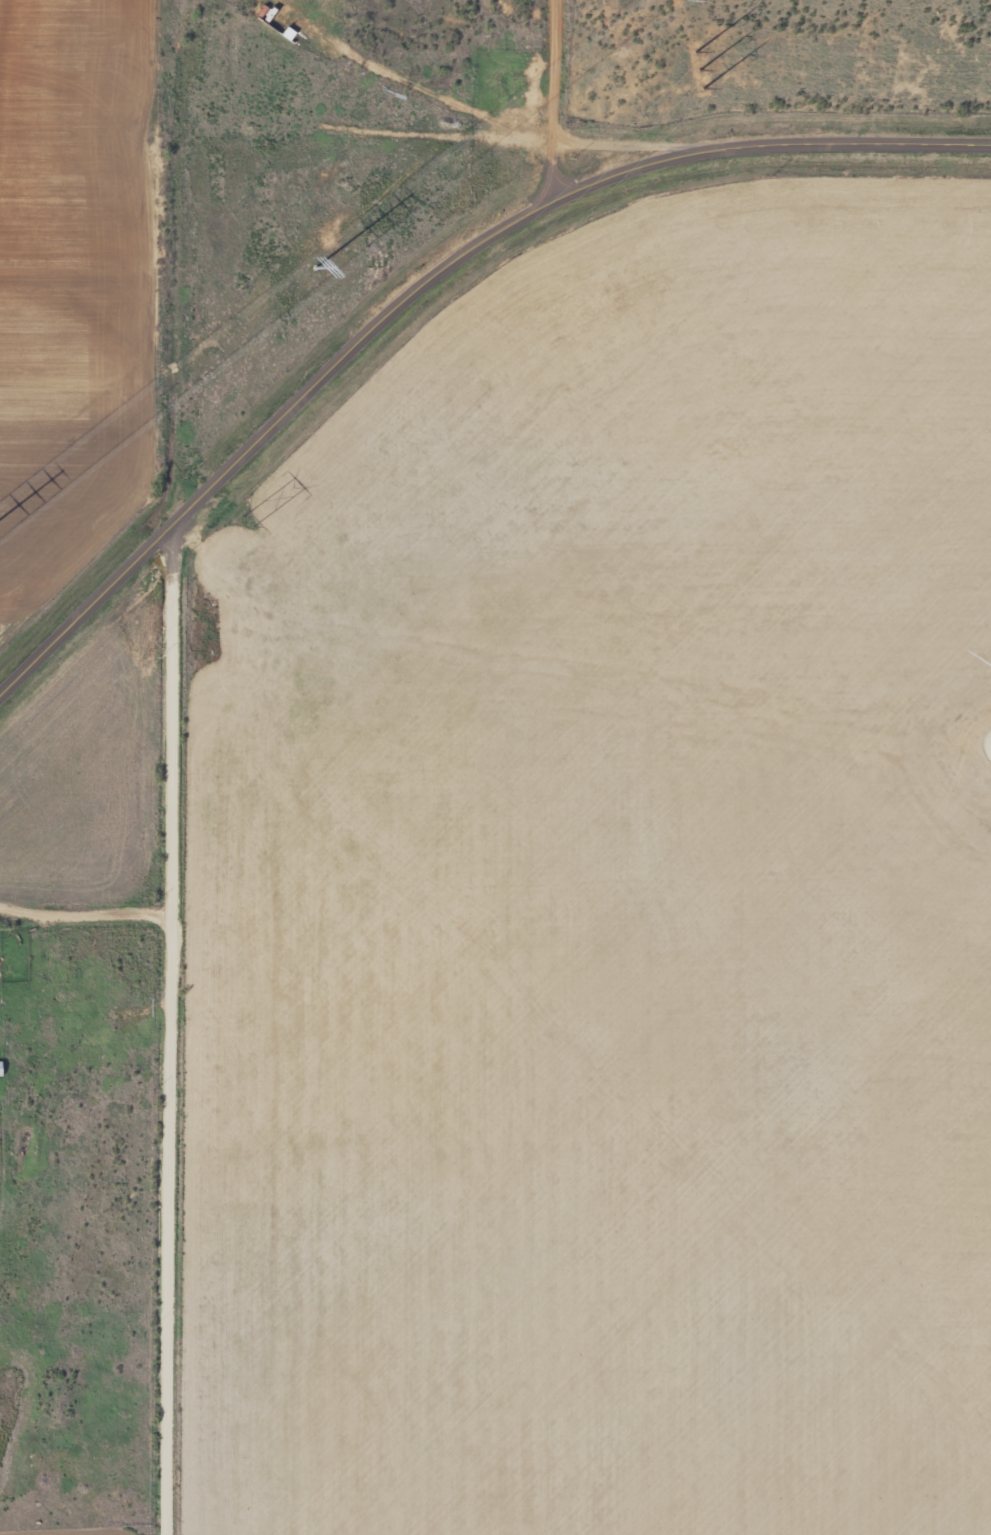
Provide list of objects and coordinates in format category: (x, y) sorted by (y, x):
road: (560, 44)
power tower: (690, 73)
road: (412, 74)
road: (553, 144)
power tower: (315, 268)
road: (428, 285)
power tower: (231, 523)
road: (178, 717)
road: (89, 904)
road: (173, 1220)

